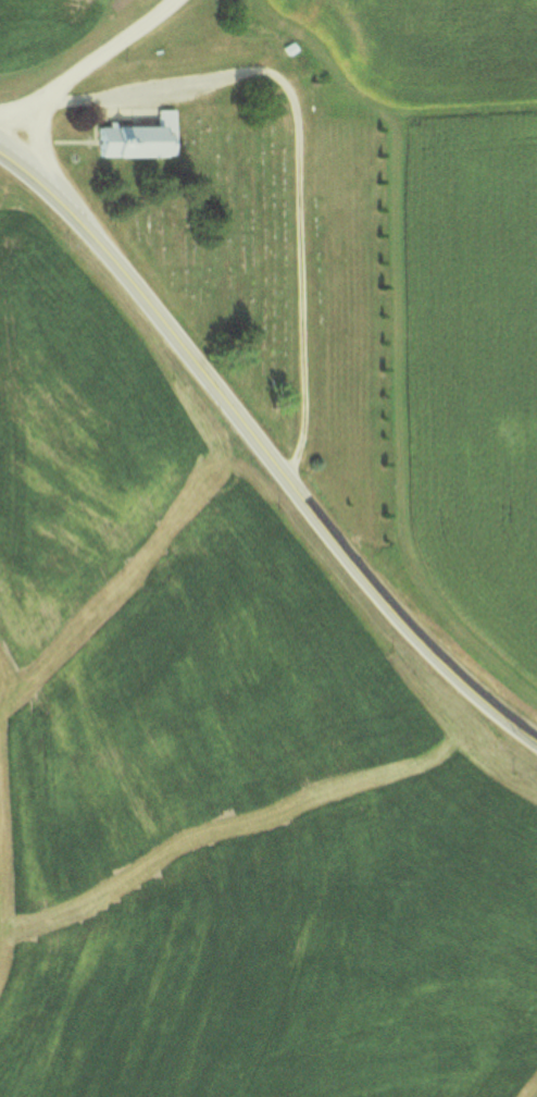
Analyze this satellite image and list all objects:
road: (80, 67)
building: (138, 137)
road: (299, 159)
park: (218, 243)
road: (263, 448)

